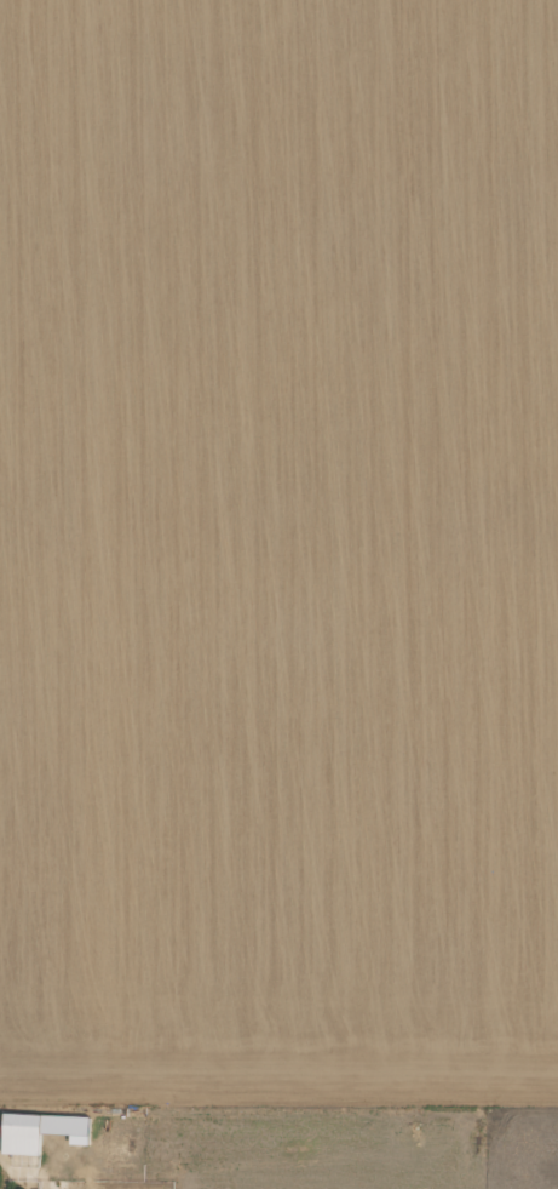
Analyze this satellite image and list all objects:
building: (39, 1130)

